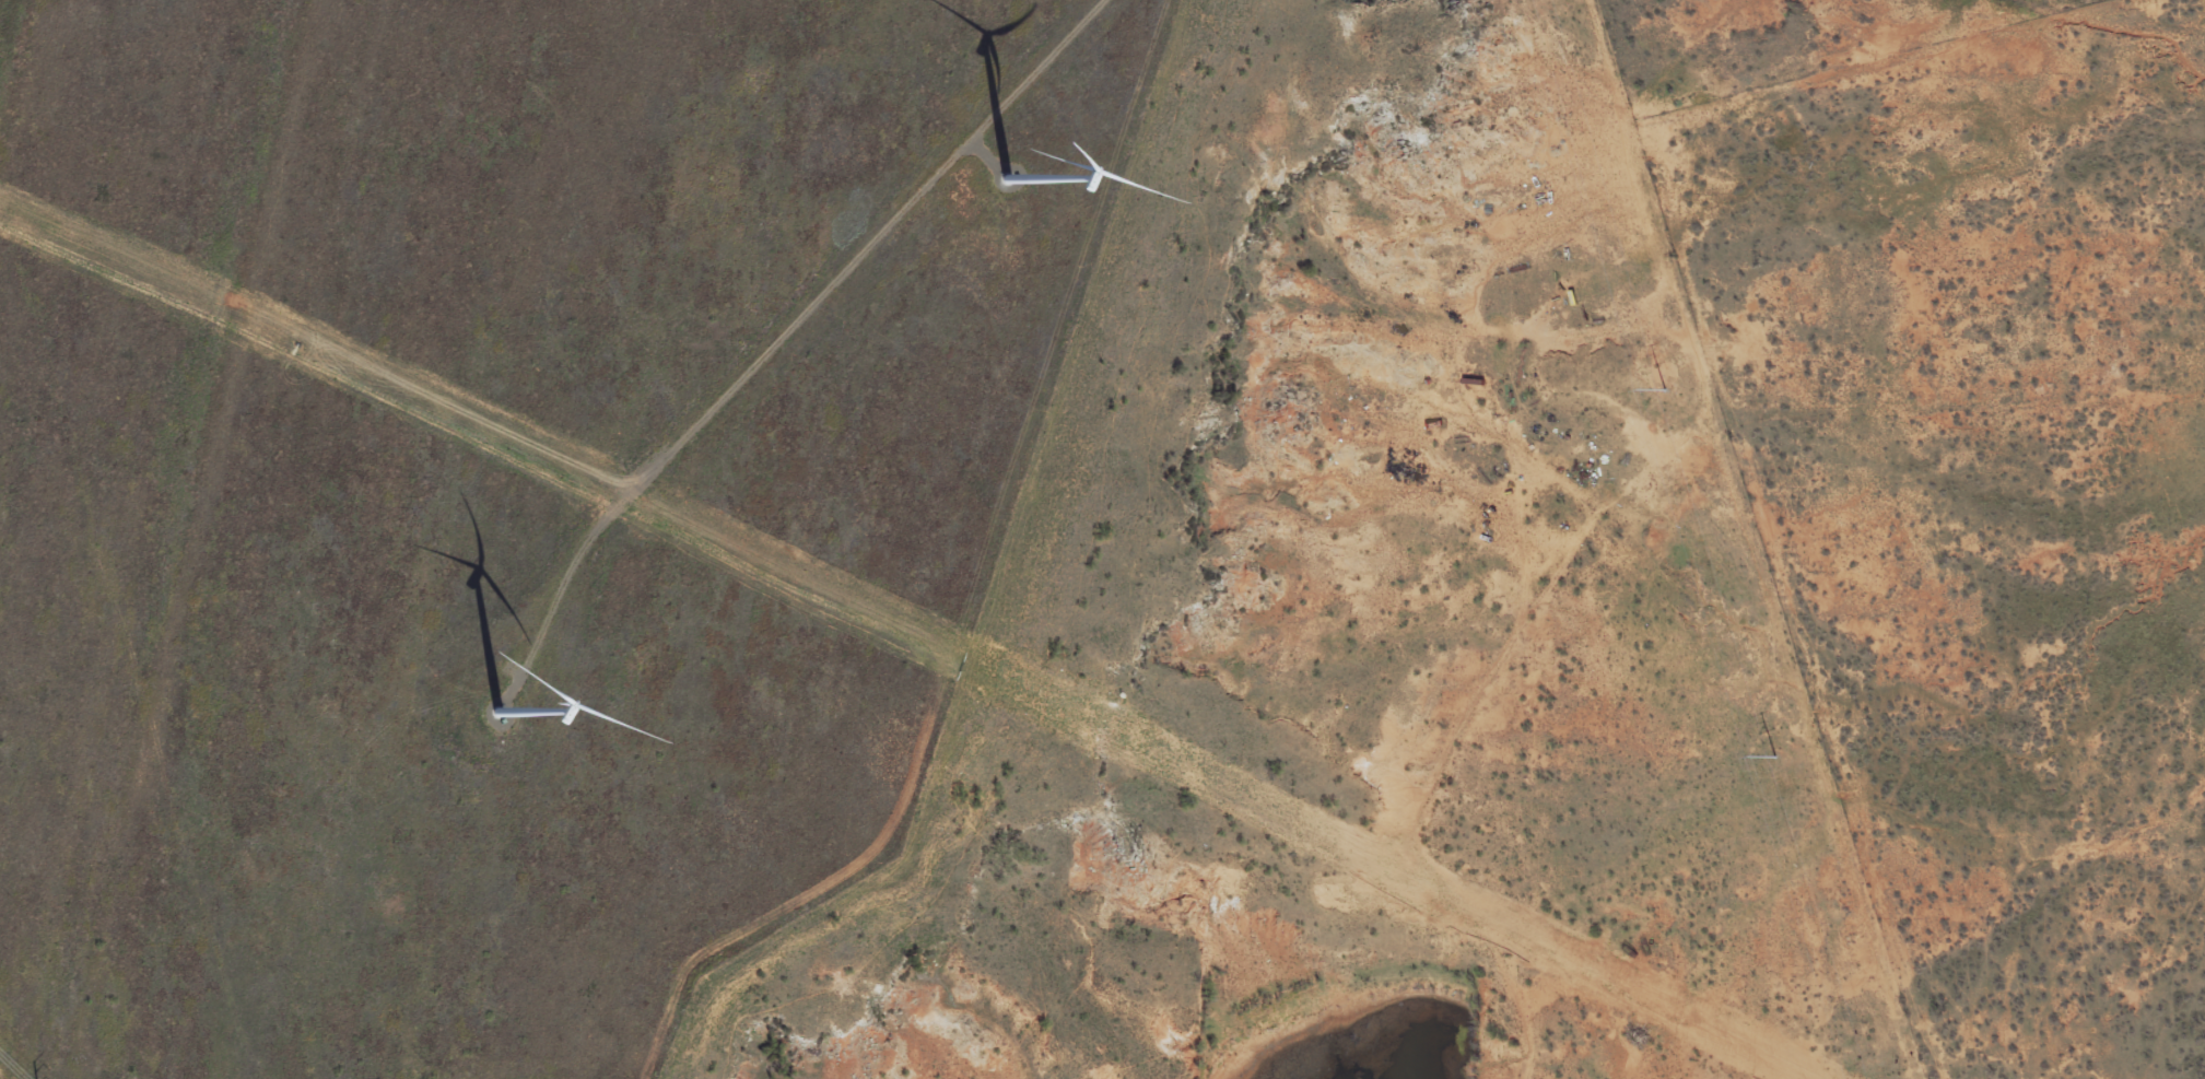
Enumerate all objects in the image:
wind turbine: (1004, 181)
power tower: (1665, 387)
wind turbine: (496, 711)
power tower: (1774, 754)

